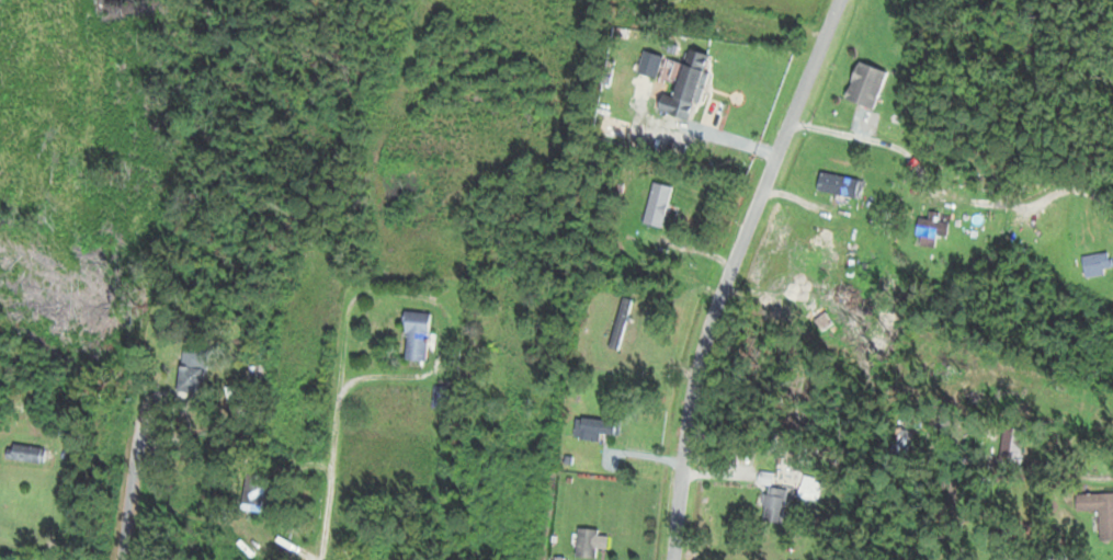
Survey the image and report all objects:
building: (685, 84)
building: (864, 85)
road: (867, 137)
building: (837, 184)
building: (657, 205)
building: (928, 229)
building: (1095, 264)
road: (728, 272)
building: (620, 323)
building: (416, 336)
building: (189, 379)
building: (438, 397)
building: (594, 427)
building: (1010, 443)
building: (25, 453)
road: (331, 464)
road: (1075, 473)
building: (802, 485)
building: (250, 495)
road: (127, 502)
building: (773, 503)
building: (1098, 512)
road: (31, 541)
building: (584, 546)

